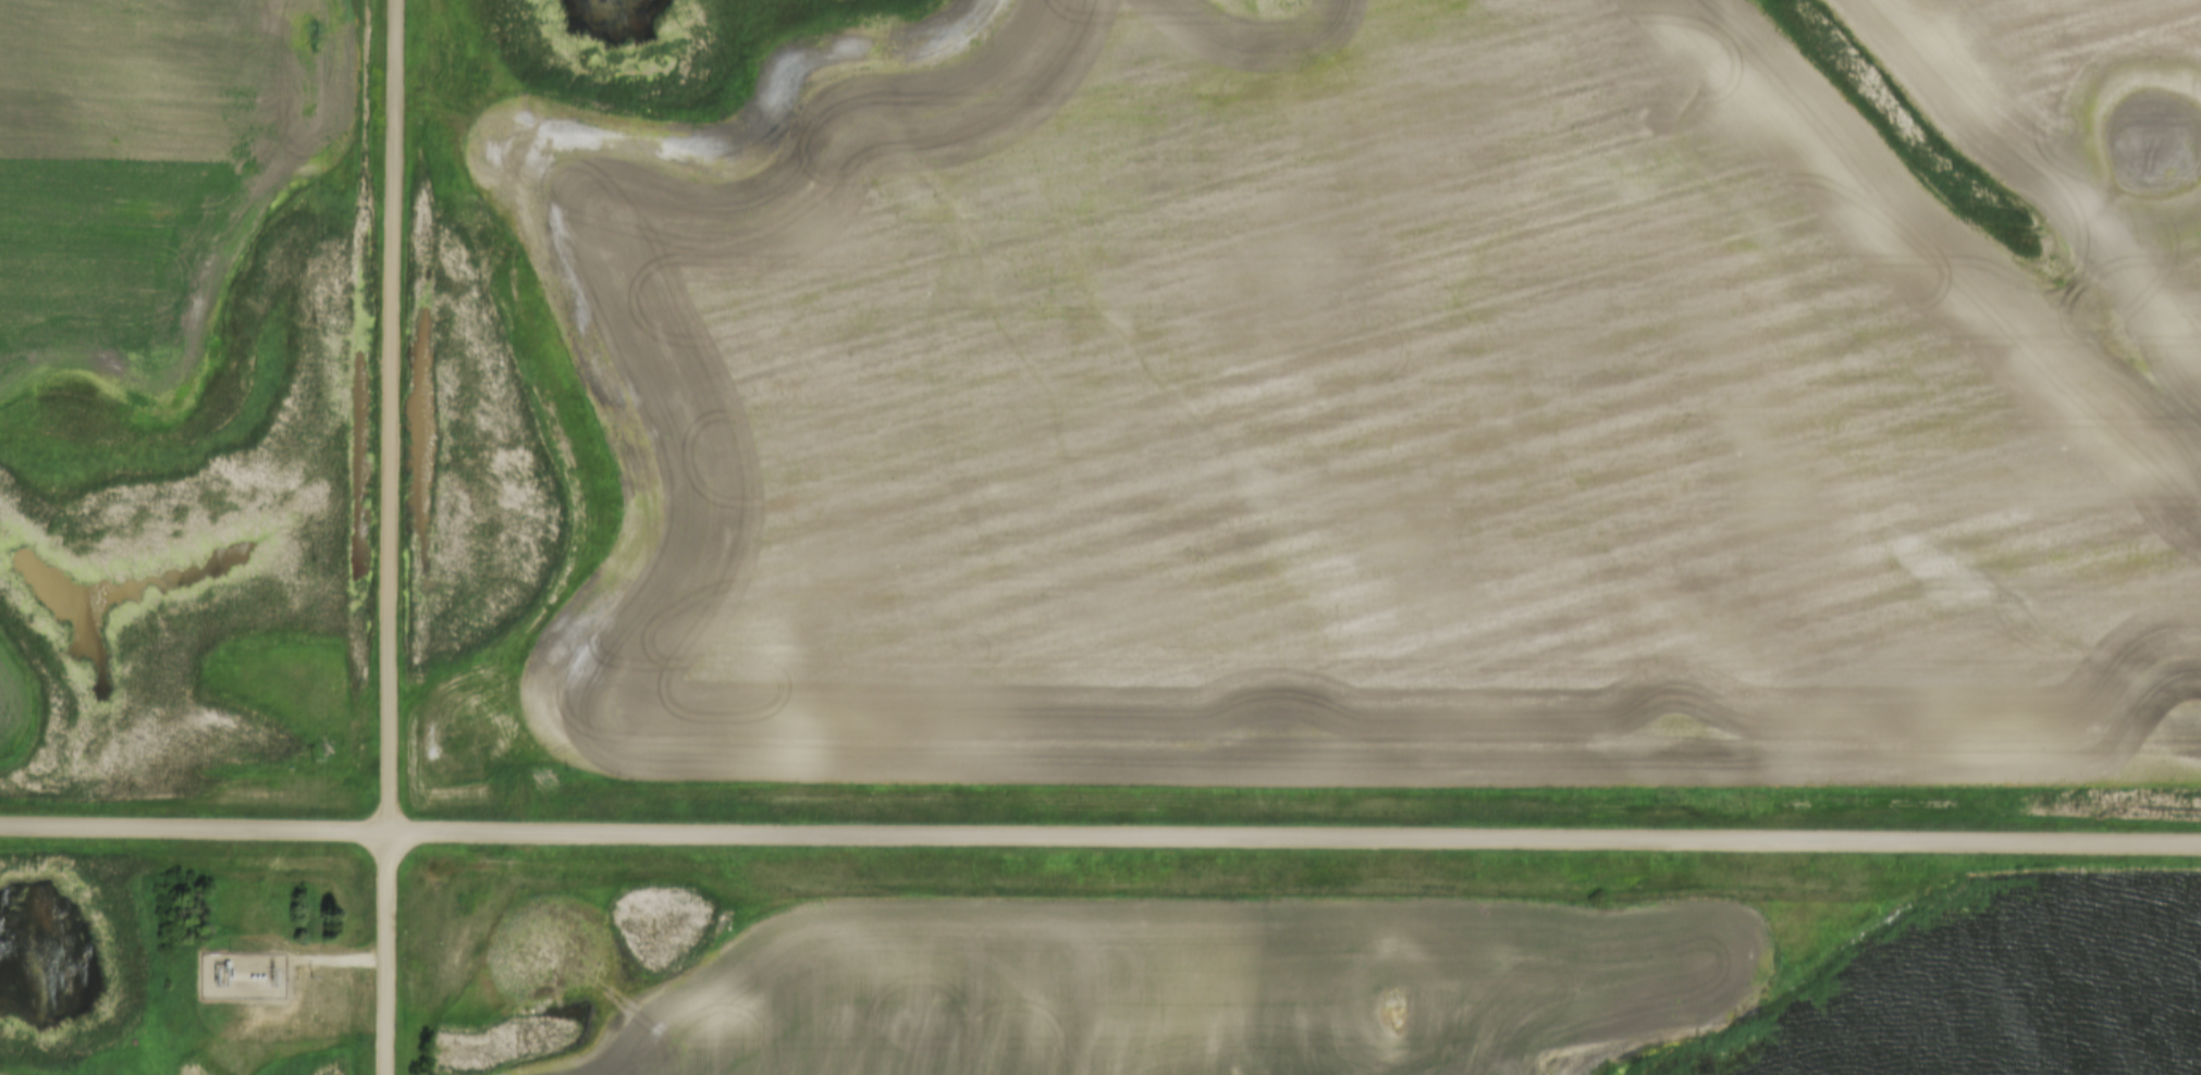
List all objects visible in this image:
road: (393, 537)
road: (196, 827)
road: (1295, 838)
road: (322, 959)
building: (224, 962)
power substation: (239, 974)

